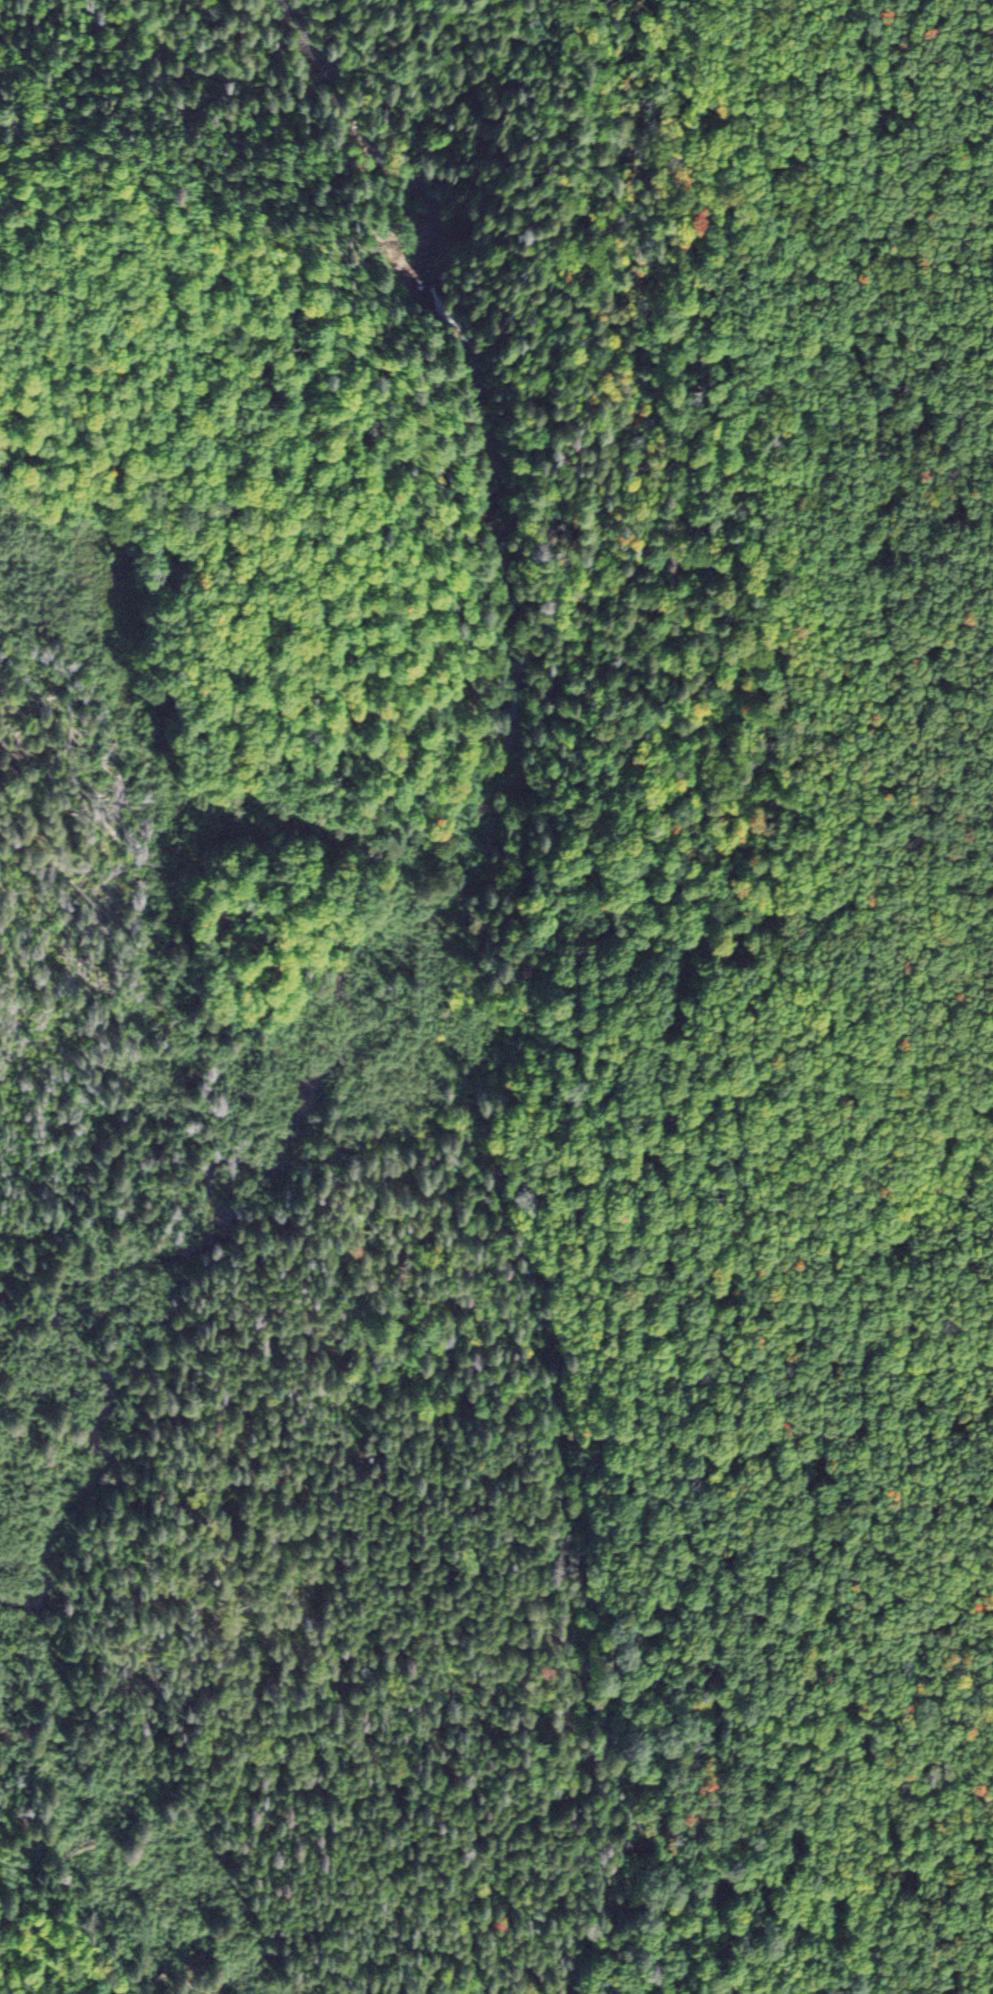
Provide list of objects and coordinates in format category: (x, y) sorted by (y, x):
river: (306, 19)
road: (199, 229)
road: (303, 235)
river: (506, 515)
river: (265, 1174)
river: (119, 1497)
river: (172, 1789)

